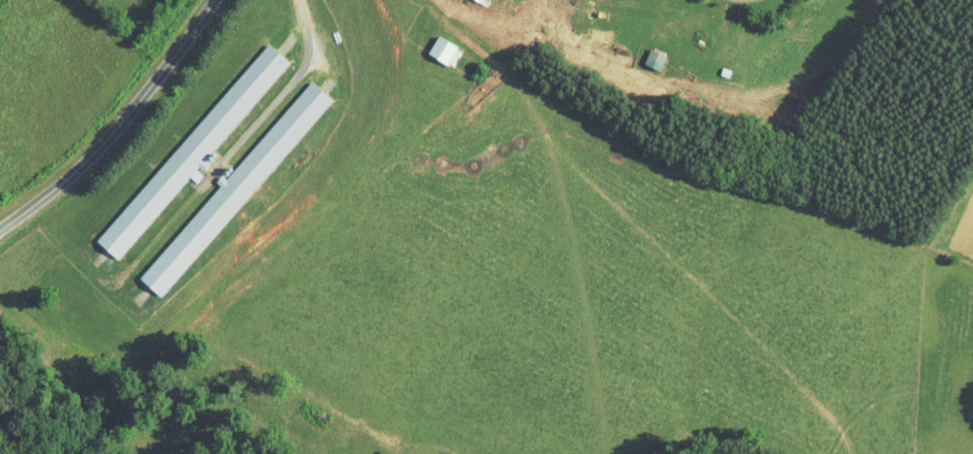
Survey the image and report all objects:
building: (484, 1)
building: (447, 50)
road: (120, 126)
building: (191, 152)
building: (232, 188)

